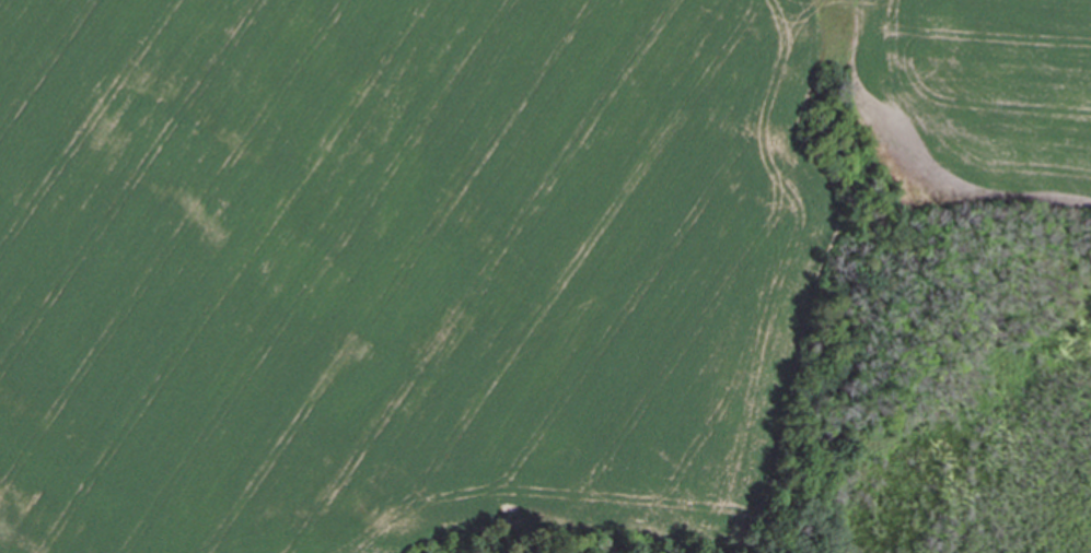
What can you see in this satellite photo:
crop: (466, 251)

